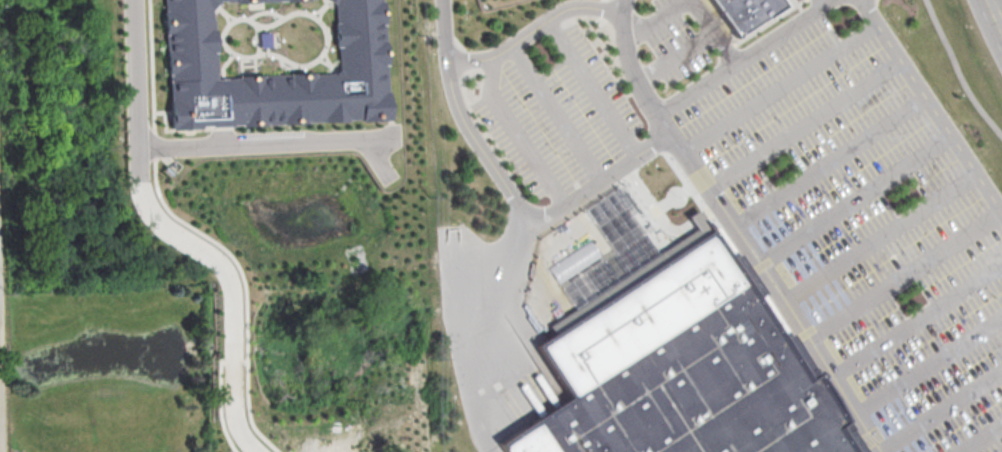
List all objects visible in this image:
building: (246, 0)
road: (821, 2)
building: (748, 11)
road: (995, 14)
road: (662, 17)
road: (537, 28)
road: (716, 31)
parking lot: (677, 41)
road: (681, 56)
road: (746, 56)
building: (276, 72)
road: (956, 72)
road: (138, 75)
road: (596, 86)
road: (784, 89)
road: (932, 106)
parking lot: (558, 107)
road: (558, 112)
road: (806, 124)
road: (518, 132)
road: (266, 145)
road: (375, 159)
road: (830, 162)
road: (508, 187)
road: (854, 199)
road: (654, 205)
road: (710, 209)
road: (696, 220)
parking lot: (867, 230)
road: (737, 233)
road: (880, 239)
building: (572, 260)
road: (904, 275)
road: (231, 285)
road: (917, 321)
road: (483, 331)
road: (0, 345)
road: (0, 358)
building: (684, 364)
road: (929, 364)
road: (2, 405)
road: (944, 416)
road: (982, 439)

